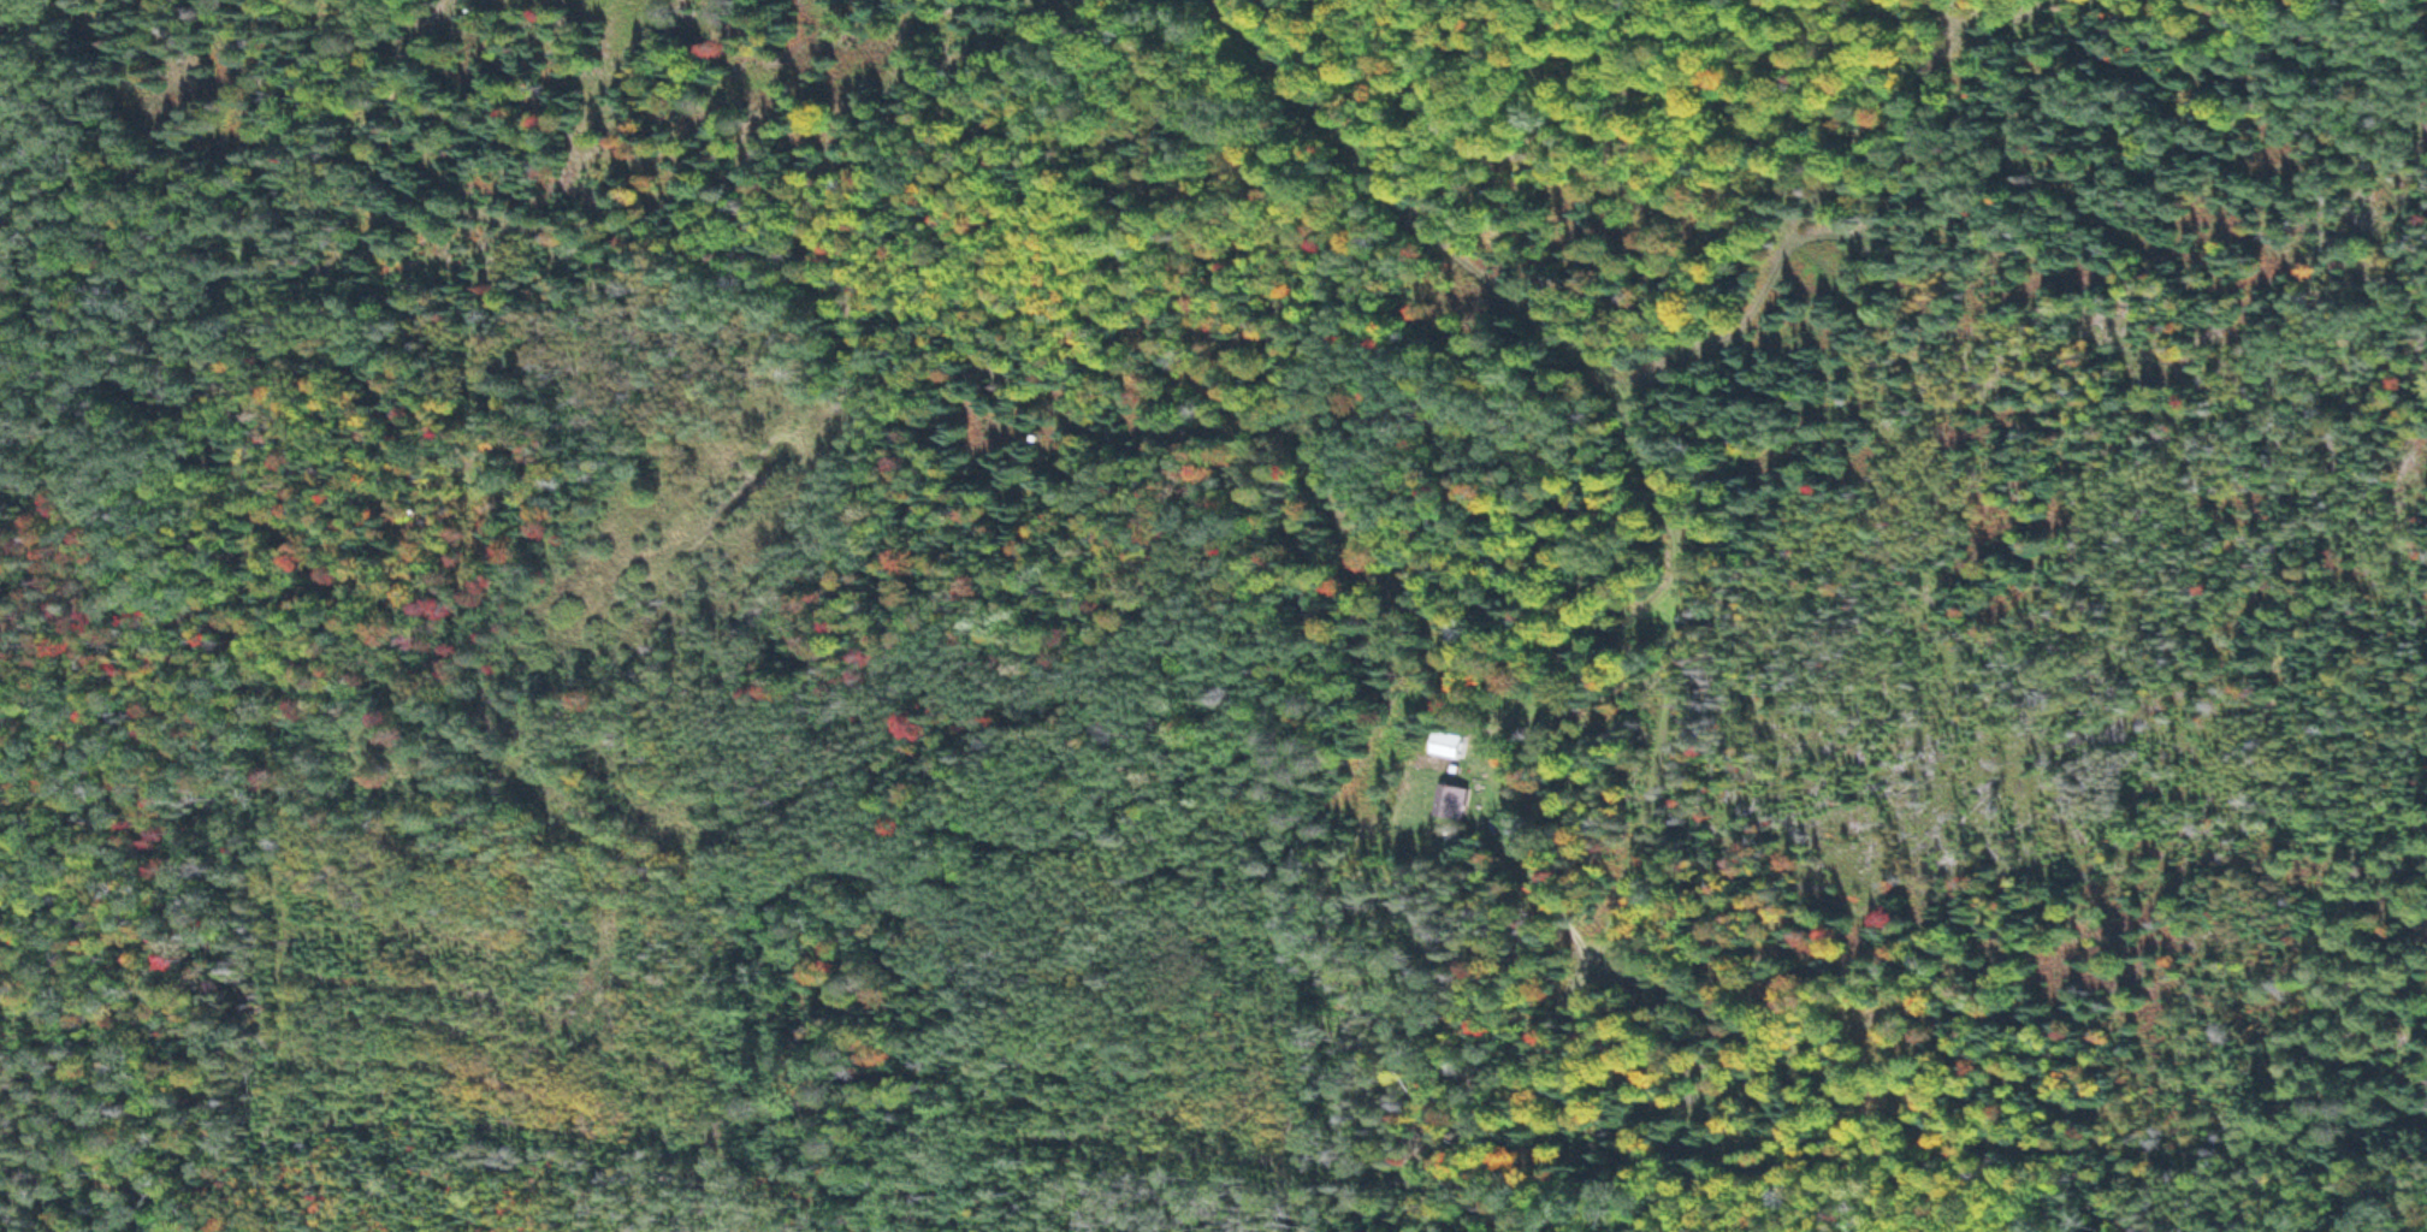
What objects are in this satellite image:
road: (1667, 590)
building: (1449, 748)
building: (1455, 805)

